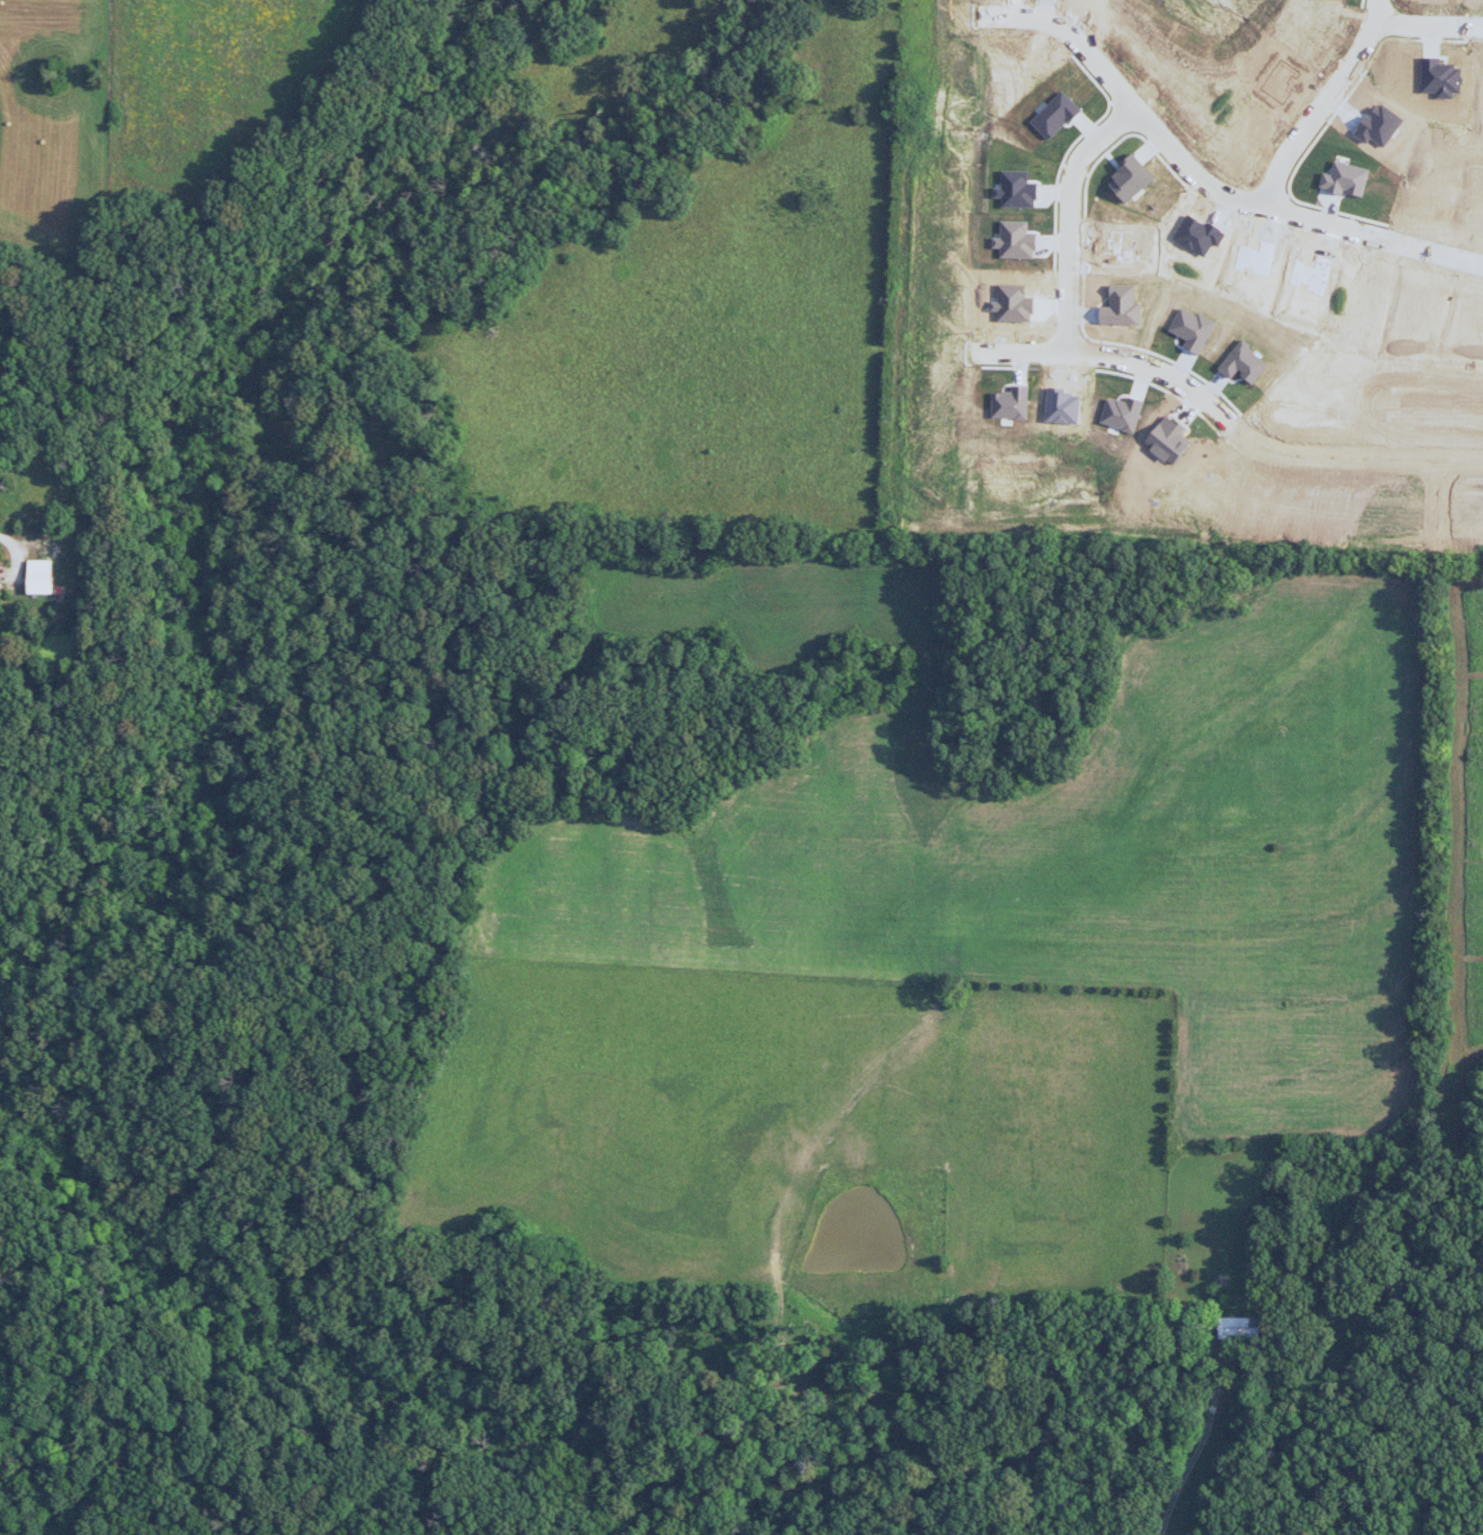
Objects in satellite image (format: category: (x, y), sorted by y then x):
building: (1078, 1)
road: (1359, 6)
road: (1428, 32)
building: (1439, 82)
building: (1276, 86)
building: (1481, 89)
road: (1322, 108)
building: (1054, 121)
road: (1120, 123)
road: (1321, 131)
building: (1377, 132)
building: (1232, 145)
road: (1095, 164)
building: (1127, 185)
building: (1343, 185)
building: (1014, 197)
road: (1202, 197)
road: (1049, 224)
road: (1069, 225)
building: (1193, 241)
building: (1013, 247)
building: (1116, 257)
building: (1249, 265)
building: (1305, 281)
building: (1414, 307)
building: (1011, 311)
building: (1118, 313)
building: (1189, 336)
road: (1063, 342)
building: (1240, 369)
road: (1106, 379)
building: (1011, 409)
building: (1063, 412)
building: (1122, 419)
road: (1225, 430)
building: (1168, 447)
road: (1434, 505)
building: (46, 576)
building: (1239, 1328)
road: (819, 1436)
road: (1199, 1446)
building: (795, 1463)

